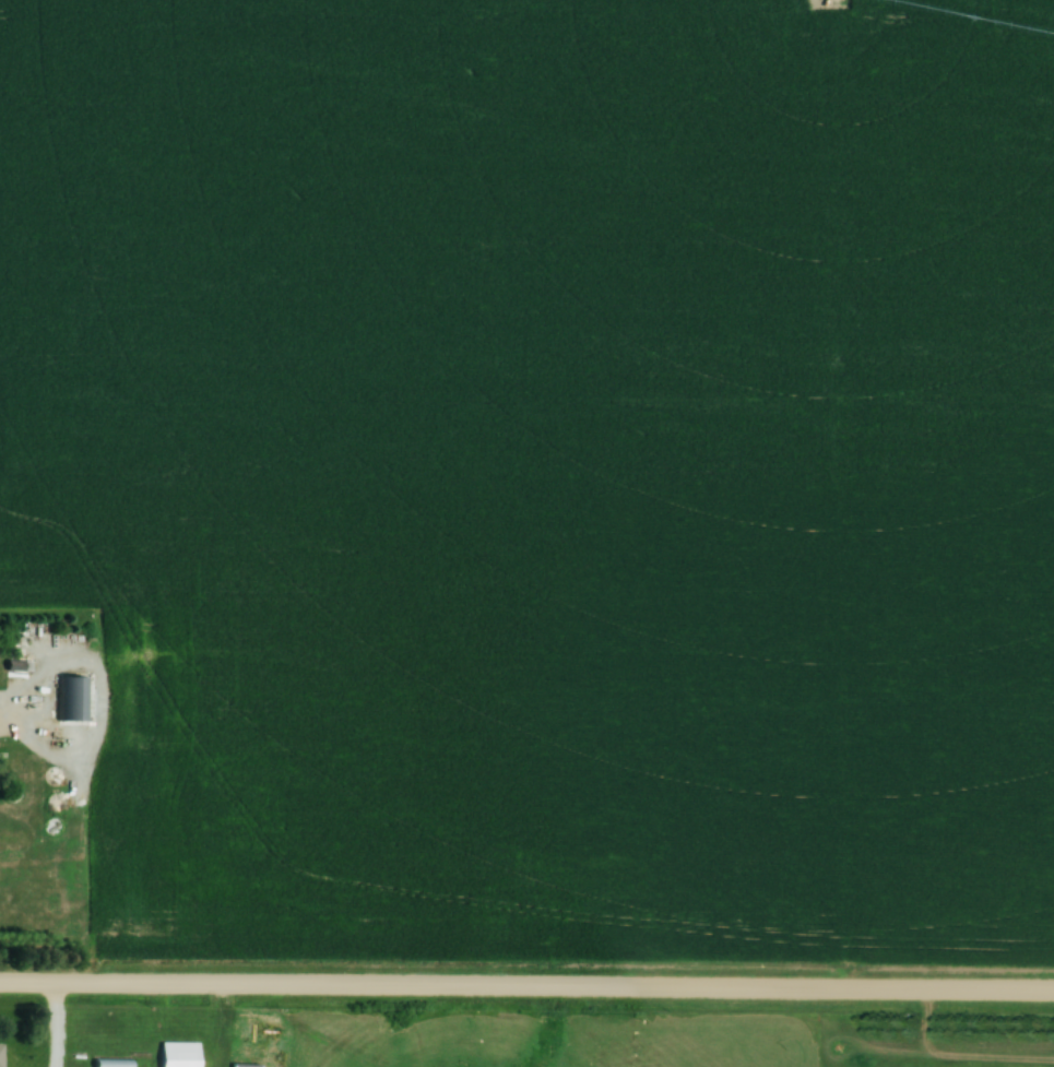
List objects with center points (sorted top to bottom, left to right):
building: (71, 699)
road: (526, 991)
road: (50, 1027)
building: (180, 1055)
building: (1, 1056)
building: (115, 1063)
building: (246, 1064)

